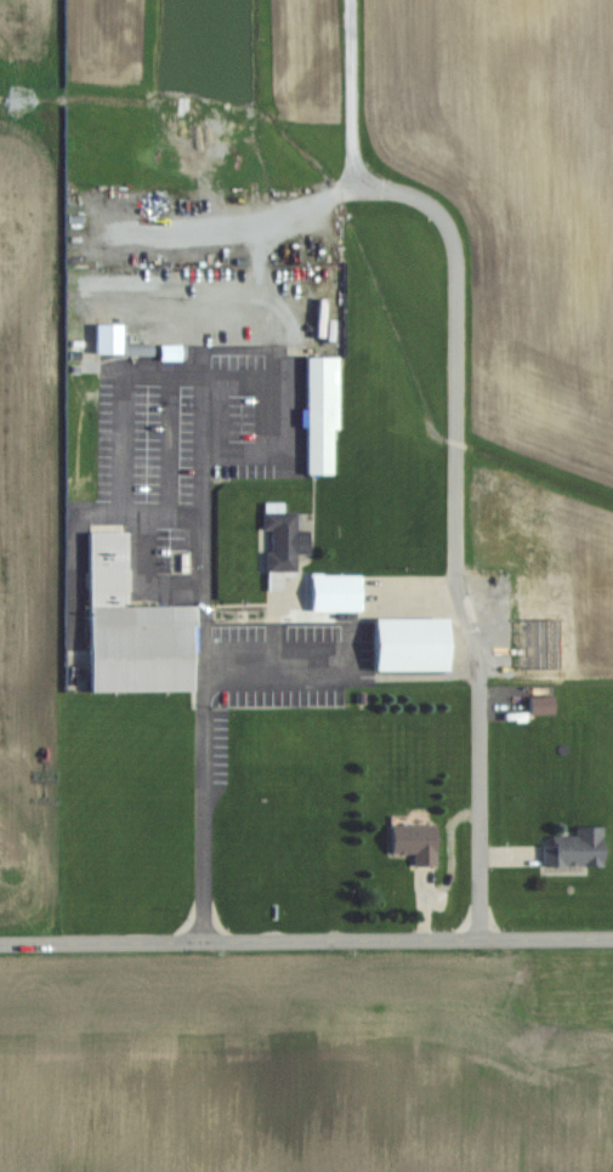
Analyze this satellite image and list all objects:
road: (200, 377)
road: (278, 410)
building: (320, 413)
road: (454, 443)
building: (283, 541)
building: (322, 619)
building: (132, 630)
building: (540, 705)
road: (204, 718)
building: (414, 841)
building: (573, 848)
road: (306, 944)

